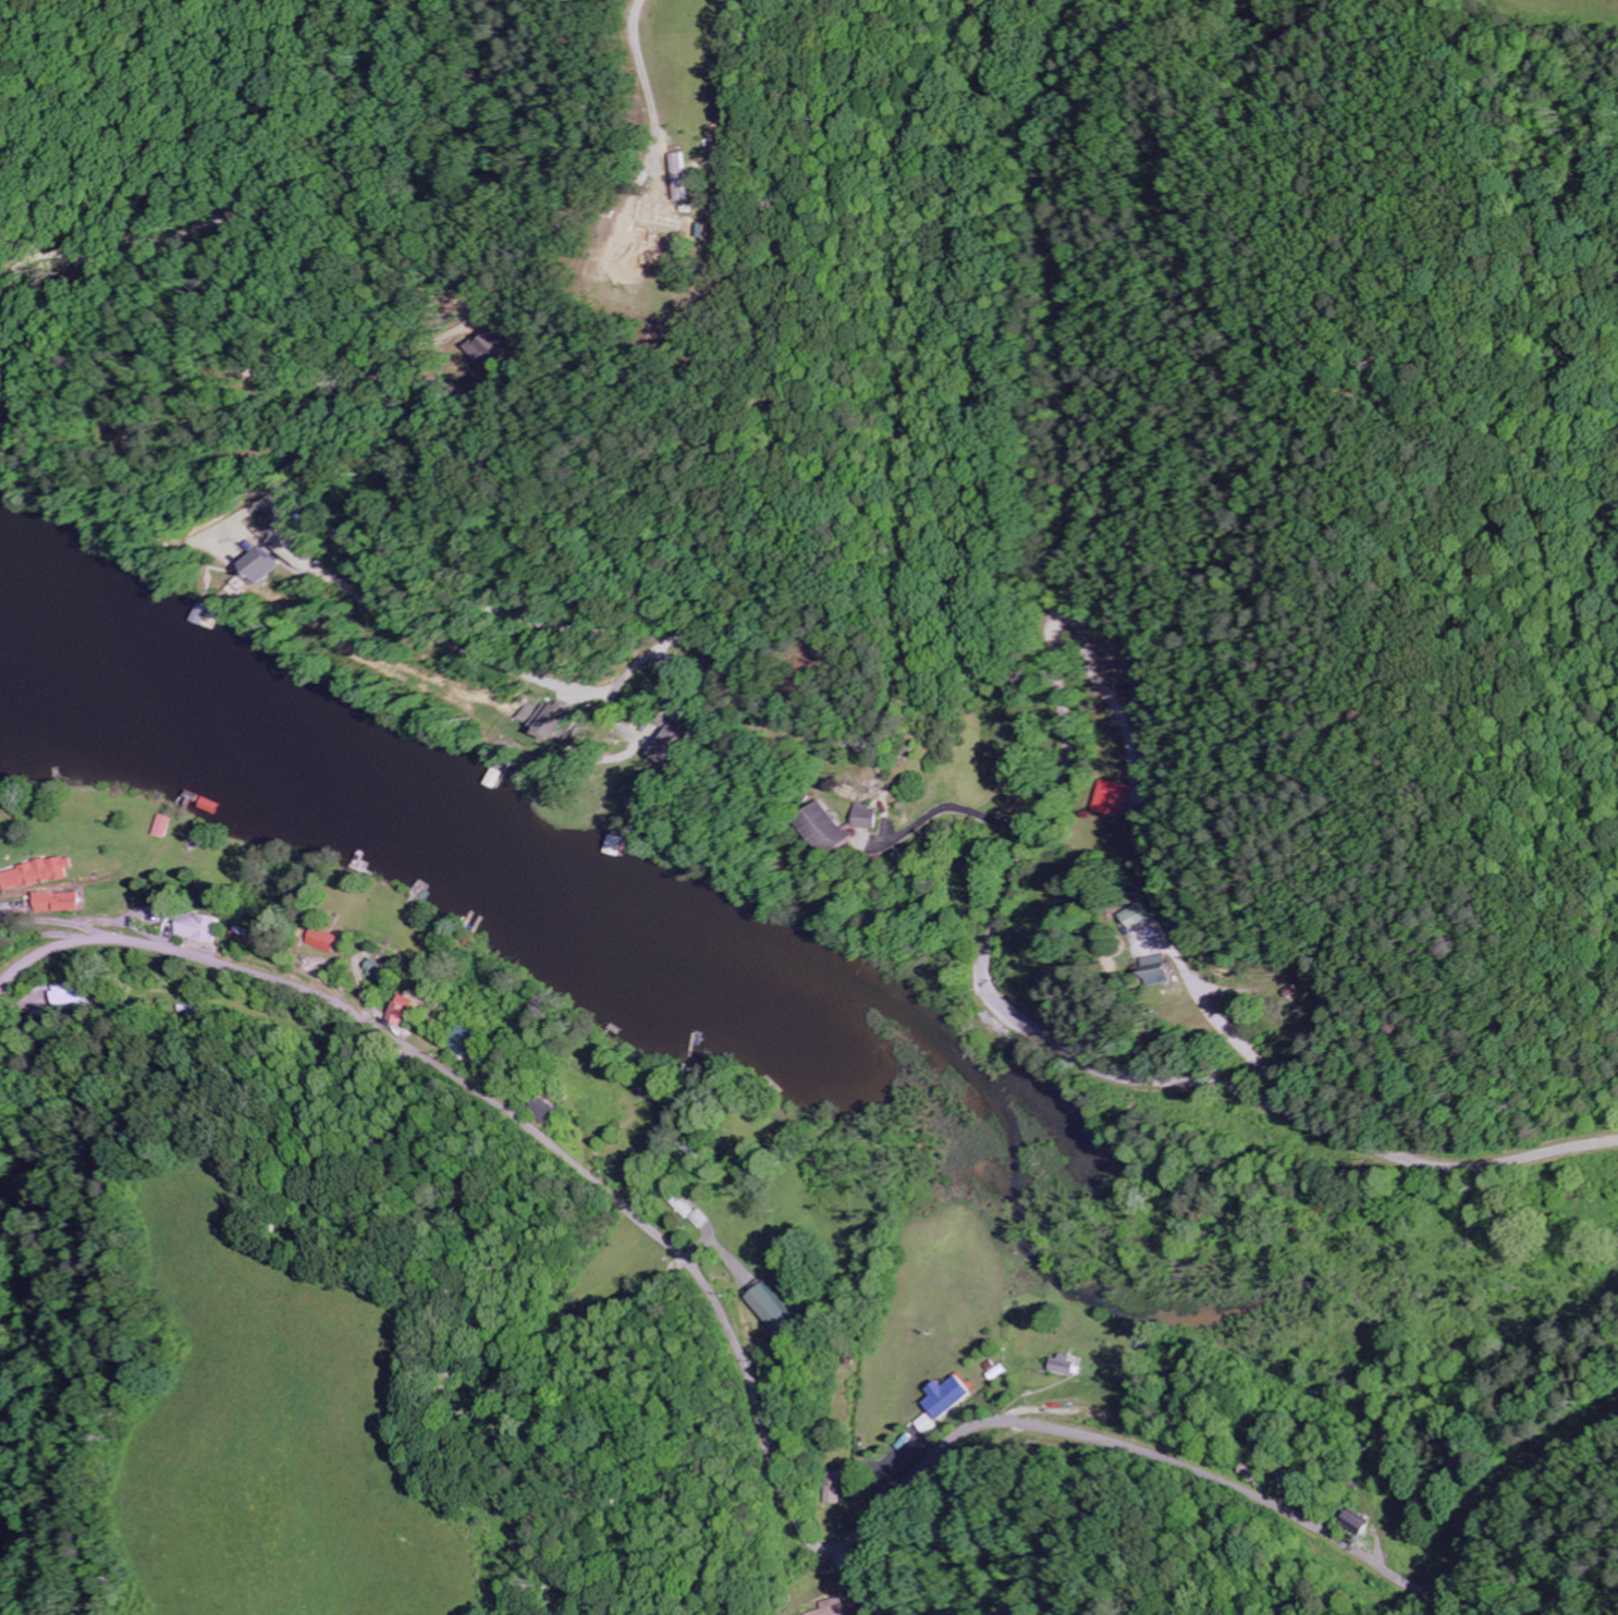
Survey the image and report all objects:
building: (485, 347)
road: (908, 367)
building: (261, 565)
building: (548, 720)
building: (676, 743)
building: (1119, 798)
building: (866, 817)
building: (171, 825)
road: (1041, 829)
building: (829, 833)
building: (47, 873)
building: (73, 902)
building: (1141, 915)
building: (213, 928)
building: (1161, 966)
building: (393, 972)
building: (85, 996)
building: (416, 1010)
building: (480, 1042)
building: (785, 1307)
building: (1067, 1363)
building: (948, 1396)
building: (933, 1424)
road: (772, 1449)
road: (15, 1485)
building: (835, 1486)
building: (1359, 1520)
building: (846, 1607)

